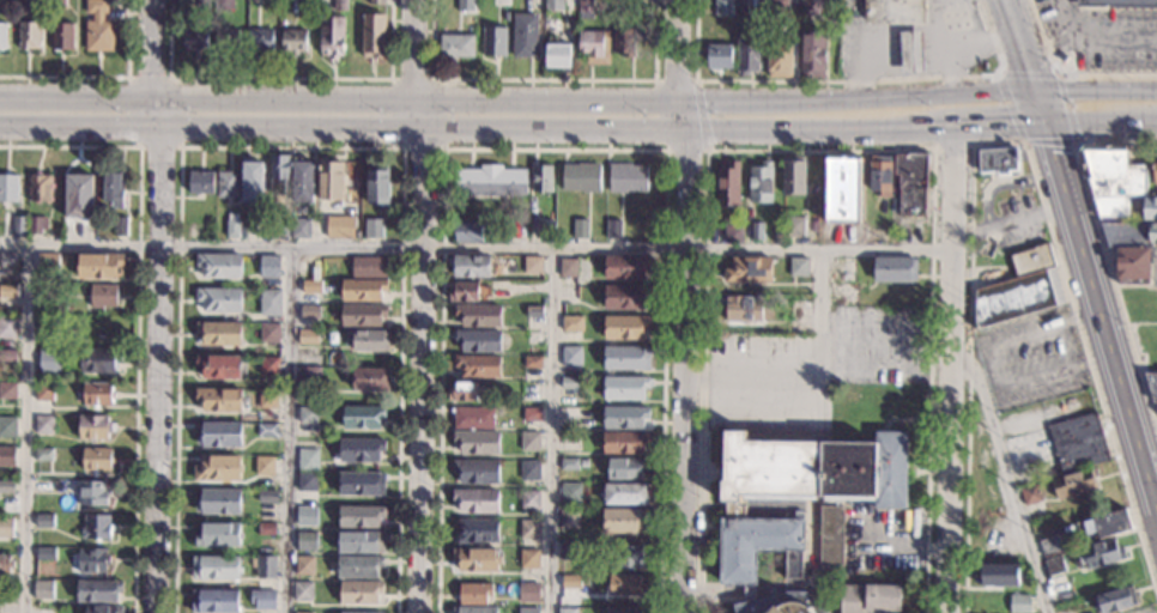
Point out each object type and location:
building: (272, 1)
building: (375, 1)
building: (1115, 2)
building: (59, 4)
building: (202, 4)
building: (223, 5)
building: (339, 5)
building: (466, 5)
building: (553, 5)
building: (626, 5)
building: (24, 6)
building: (304, 6)
building: (584, 6)
building: (741, 6)
building: (779, 6)
building: (811, 6)
building: (723, 7)
building: (895, 11)
building: (832, 17)
road: (968, 24)
building: (98, 26)
building: (2, 35)
building: (29, 35)
building: (525, 35)
road: (909, 35)
building: (62, 36)
building: (331, 36)
building: (374, 36)
building: (195, 41)
building: (226, 41)
building: (261, 41)
building: (292, 41)
building: (493, 41)
building: (623, 41)
road: (1096, 41)
building: (589, 43)
road: (982, 44)
building: (458, 45)
building: (747, 51)
building: (813, 53)
building: (558, 54)
building: (717, 56)
building: (913, 56)
building: (781, 57)
road: (1052, 74)
road: (1067, 74)
road: (102, 75)
road: (168, 77)
road: (280, 78)
road: (392, 79)
road: (544, 79)
road: (844, 81)
traffic signals: (1035, 92)
road: (578, 102)
road: (699, 115)
road: (655, 116)
road: (578, 126)
traffic signals: (1046, 128)
road: (1000, 144)
road: (952, 147)
road: (291, 148)
road: (552, 150)
road: (820, 151)
building: (997, 159)
building: (1153, 171)
building: (279, 174)
building: (879, 176)
building: (581, 177)
building: (626, 177)
building: (790, 177)
building: (540, 178)
building: (1110, 180)
building: (329, 181)
building: (489, 181)
building: (252, 182)
building: (302, 182)
road: (1002, 182)
building: (199, 183)
building: (376, 184)
building: (758, 184)
building: (910, 184)
building: (226, 186)
building: (727, 187)
building: (8, 189)
building: (38, 189)
building: (113, 190)
building: (841, 192)
building: (78, 198)
building: (1149, 210)
road: (1008, 221)
building: (18, 225)
building: (36, 225)
building: (231, 226)
building: (119, 227)
building: (793, 227)
building: (299, 229)
building: (338, 229)
building: (580, 229)
building: (253, 230)
building: (278, 230)
building: (372, 230)
building: (544, 230)
building: (613, 230)
building: (467, 232)
building: (755, 232)
building: (1129, 235)
building: (732, 236)
road: (474, 248)
road: (1103, 248)
building: (986, 249)
road: (1082, 256)
building: (7, 261)
building: (46, 265)
building: (98, 266)
building: (269, 266)
building: (533, 266)
building: (219, 267)
building: (468, 267)
building: (624, 267)
building: (796, 267)
building: (1131, 267)
building: (368, 268)
building: (568, 268)
building: (747, 271)
building: (895, 271)
building: (843, 284)
building: (310, 287)
road: (820, 290)
building: (1019, 290)
building: (362, 291)
building: (7, 292)
building: (468, 292)
building: (102, 296)
building: (625, 297)
building: (218, 301)
building: (269, 303)
building: (52, 305)
road: (157, 305)
road: (422, 305)
road: (680, 305)
building: (1141, 305)
road: (137, 309)
building: (740, 310)
building: (308, 311)
building: (533, 312)
building: (361, 316)
building: (478, 317)
building: (7, 323)
building: (571, 324)
building: (47, 326)
building: (624, 327)
building: (220, 334)
building: (268, 334)
building: (308, 338)
building: (533, 339)
building: (367, 340)
building: (477, 341)
building: (7, 357)
building: (570, 357)
parking lot: (1030, 357)
building: (625, 359)
building: (98, 360)
building: (48, 362)
building: (532, 363)
building: (268, 366)
building: (475, 366)
road: (992, 366)
building: (219, 368)
road: (947, 370)
parking lot: (808, 371)
building: (309, 378)
building: (370, 380)
building: (568, 384)
building: (624, 388)
building: (1152, 388)
building: (7, 392)
building: (43, 392)
building: (461, 393)
building: (528, 393)
building: (96, 394)
building: (267, 399)
building: (219, 400)
building: (531, 414)
building: (307, 417)
building: (361, 418)
building: (624, 418)
building: (472, 419)
building: (44, 425)
building: (7, 427)
building: (92, 427)
road: (23, 430)
road: (291, 430)
road: (550, 430)
building: (266, 431)
building: (219, 436)
building: (475, 443)
building: (528, 443)
building: (623, 443)
building: (1077, 444)
building: (359, 450)
building: (42, 455)
building: (6, 456)
building: (95, 460)
building: (307, 460)
building: (583, 463)
building: (568, 466)
building: (263, 467)
building: (217, 469)
building: (624, 469)
building: (529, 471)
building: (475, 472)
road: (1006, 474)
building: (305, 482)
building: (361, 485)
building: (1071, 485)
building: (5, 487)
building: (91, 493)
building: (569, 493)
building: (625, 494)
building: (1030, 496)
building: (266, 498)
building: (529, 500)
building: (217, 502)
building: (474, 502)
building: (358, 516)
building: (830, 516)
building: (305, 517)
building: (568, 518)
building: (43, 521)
building: (623, 521)
building: (93, 527)
building: (1102, 527)
building: (6, 529)
building: (266, 529)
building: (528, 530)
building: (475, 532)
building: (217, 535)
building: (304, 542)
building: (359, 542)
building: (1049, 547)
building: (568, 551)
building: (44, 554)
building: (1096, 556)
building: (628, 557)
building: (475, 559)
building: (90, 560)
building: (527, 560)
building: (4, 564)
building: (303, 566)
building: (1053, 566)
building: (265, 568)
building: (357, 568)
building: (214, 569)
building: (997, 576)
building: (584, 582)
building: (570, 583)
building: (625, 585)
building: (42, 590)
building: (97, 590)
building: (302, 591)
building: (527, 593)
building: (358, 594)
building: (473, 594)
building: (5, 595)
building: (867, 599)
building: (262, 600)
building: (1111, 601)
building: (213, 602)
building: (780, 605)
building: (1019, 605)
building: (47, 609)
building: (101, 609)
building: (472, 611)
building: (527, 611)
building: (565, 611)
building: (624, 611)
building: (302, 612)
building: (359, 612)

